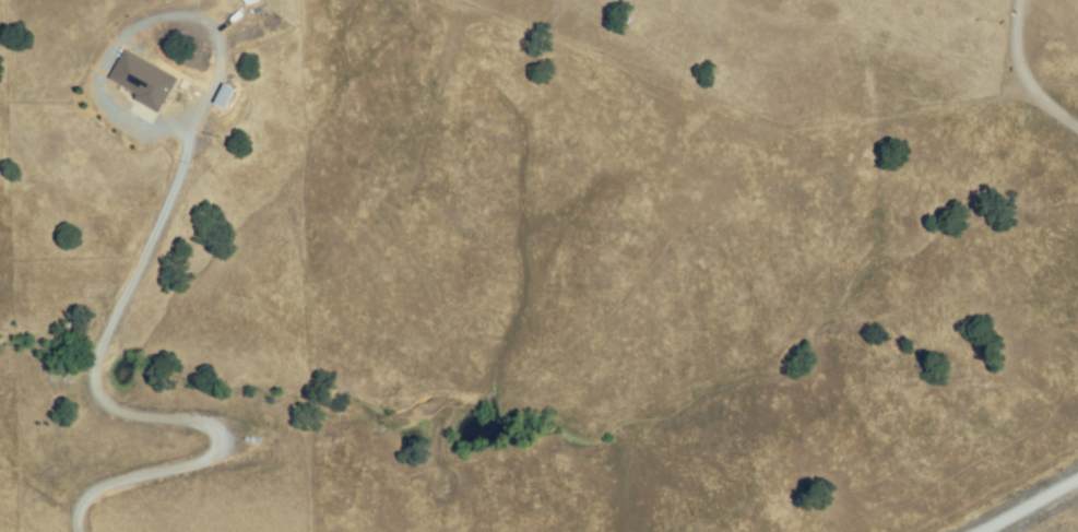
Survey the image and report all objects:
building: (245, 1)
building: (251, 1)
road: (1026, 71)
building: (143, 79)
building: (220, 96)
road: (92, 405)
building: (482, 436)
road: (1028, 505)

